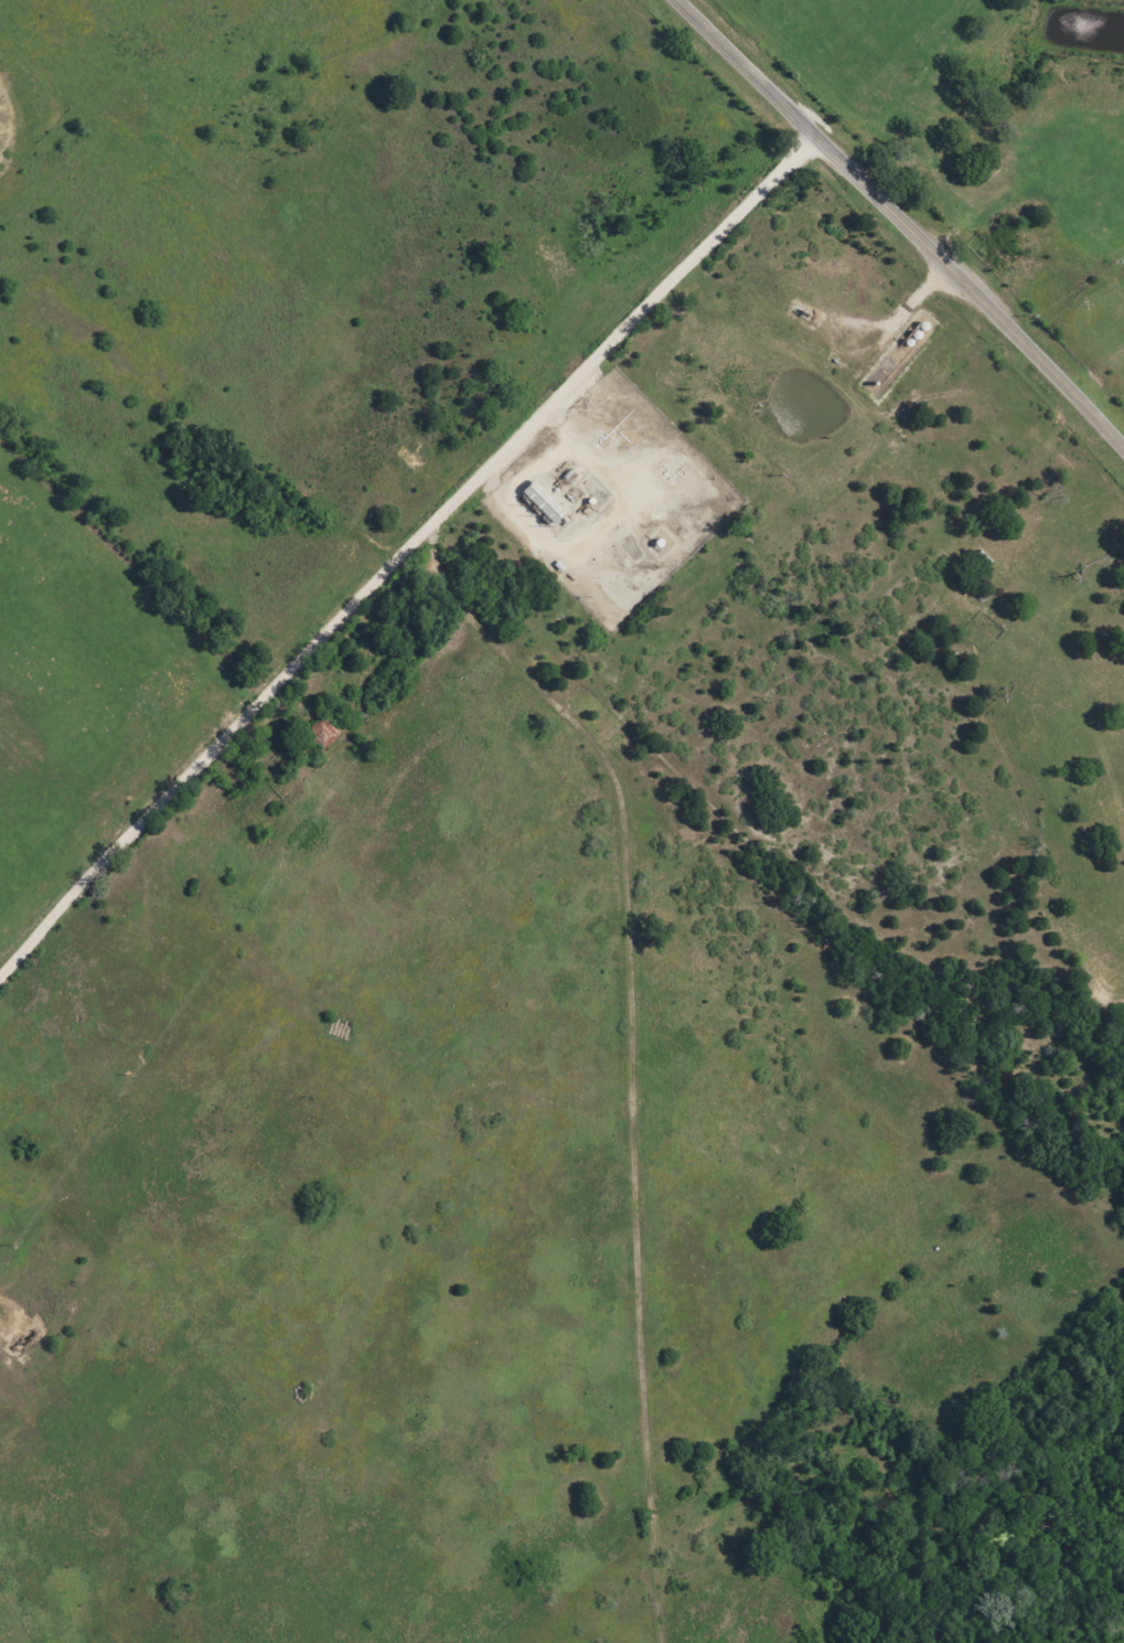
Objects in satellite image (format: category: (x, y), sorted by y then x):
road: (539, 39)
road: (903, 222)
petroleum well: (805, 313)
building: (548, 502)
road: (404, 551)
petroleum well: (28, 1341)

